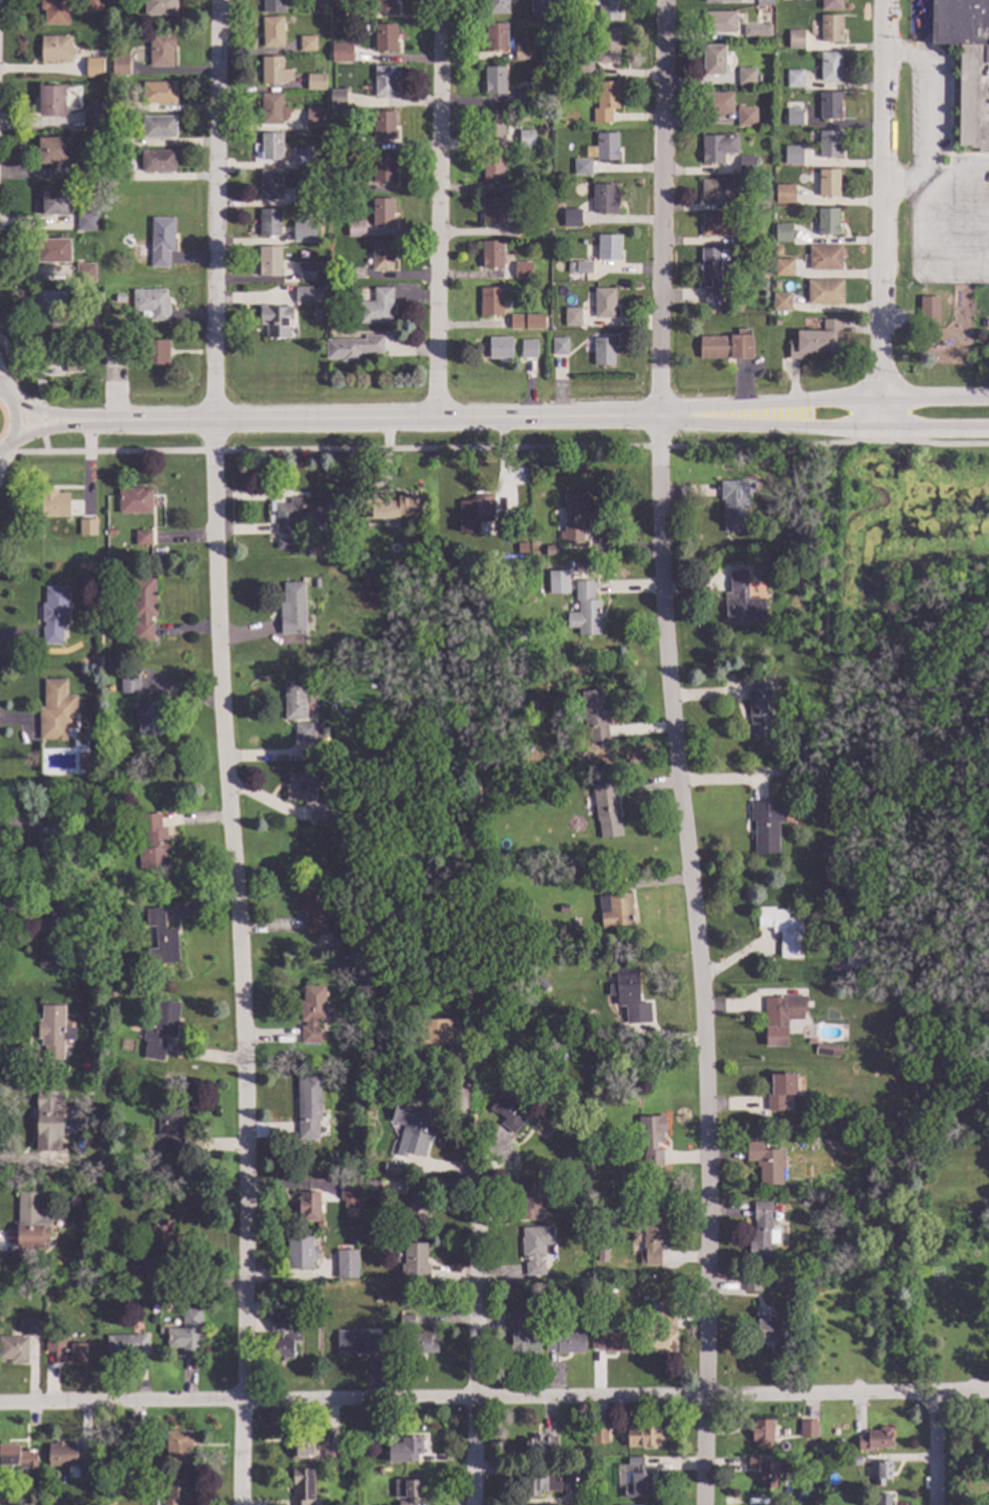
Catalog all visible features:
building: (722, 0)
building: (318, 1)
building: (579, 1)
building: (341, 2)
building: (764, 2)
building: (122, 4)
building: (540, 4)
building: (831, 4)
building: (93, 5)
building: (273, 5)
building: (384, 6)
building: (497, 6)
building: (160, 7)
building: (609, 9)
building: (55, 10)
building: (719, 20)
road: (883, 21)
building: (334, 24)
building: (831, 27)
building: (752, 29)
building: (273, 31)
building: (496, 35)
building: (385, 36)
building: (796, 38)
building: (308, 42)
building: (608, 44)
building: (56, 47)
building: (524, 47)
building: (162, 49)
building: (340, 52)
building: (358, 54)
building: (714, 58)
building: (967, 63)
building: (120, 64)
building: (584, 64)
building: (94, 66)
building: (830, 66)
building: (275, 69)
building: (747, 75)
building: (795, 77)
building: (495, 79)
building: (316, 80)
building: (385, 80)
building: (160, 92)
building: (526, 94)
building: (339, 98)
building: (52, 99)
building: (606, 100)
building: (717, 102)
building: (118, 103)
building: (830, 104)
building: (273, 107)
road: (932, 112)
building: (93, 114)
building: (794, 115)
building: (527, 116)
building: (747, 116)
building: (315, 117)
building: (494, 122)
building: (384, 123)
building: (159, 126)
building: (343, 134)
building: (118, 136)
building: (526, 139)
building: (830, 143)
building: (271, 145)
building: (606, 146)
building: (718, 147)
building: (54, 149)
building: (303, 155)
building: (797, 156)
building: (158, 160)
building: (747, 163)
building: (493, 165)
building: (383, 166)
building: (583, 166)
building: (803, 168)
building: (85, 169)
building: (560, 169)
building: (118, 171)
building: (767, 180)
building: (829, 182)
building: (271, 183)
building: (522, 183)
building: (355, 184)
building: (717, 189)
building: (785, 192)
building: (301, 195)
building: (605, 197)
building: (760, 198)
building: (55, 201)
road: (438, 209)
building: (492, 210)
building: (383, 211)
building: (318, 214)
building: (572, 216)
building: (86, 220)
building: (826, 221)
building: (270, 222)
building: (718, 223)
building: (522, 226)
building: (356, 227)
building: (784, 231)
building: (303, 232)
building: (753, 232)
road: (881, 235)
building: (162, 240)
building: (609, 245)
building: (53, 249)
building: (766, 250)
building: (778, 250)
building: (492, 253)
building: (382, 255)
building: (826, 256)
building: (270, 260)
building: (571, 266)
building: (585, 266)
building: (783, 267)
building: (523, 268)
building: (764, 268)
building: (307, 270)
building: (85, 271)
building: (712, 271)
building: (356, 272)
building: (331, 275)
building: (776, 283)
building: (825, 291)
building: (304, 293)
building: (928, 296)
building: (119, 297)
building: (782, 300)
building: (491, 301)
building: (152, 302)
building: (605, 302)
building: (52, 303)
building: (377, 306)
building: (317, 313)
building: (573, 316)
building: (276, 319)
building: (89, 320)
building: (519, 321)
building: (778, 321)
building: (816, 339)
building: (727, 344)
building: (560, 345)
building: (353, 346)
building: (500, 346)
building: (529, 347)
building: (49, 349)
building: (604, 350)
building: (156, 351)
building: (118, 354)
building: (73, 365)
road: (823, 402)
road: (38, 403)
road: (52, 413)
road: (377, 419)
road: (15, 420)
road: (53, 425)
road: (823, 426)
road: (489, 447)
building: (135, 500)
building: (54, 502)
building: (734, 504)
building: (401, 505)
building: (299, 511)
building: (475, 512)
building: (574, 517)
building: (88, 526)
building: (110, 530)
building: (143, 537)
building: (283, 544)
building: (309, 552)
building: (316, 581)
building: (742, 599)
building: (143, 606)
building: (293, 608)
building: (586, 609)
building: (54, 613)
building: (467, 634)
building: (457, 636)
building: (350, 643)
building: (129, 683)
building: (972, 684)
building: (109, 687)
building: (295, 699)
building: (57, 707)
building: (759, 708)
building: (596, 713)
building: (147, 716)
building: (307, 732)
building: (810, 751)
road: (222, 752)
road: (675, 752)
building: (801, 752)
building: (82, 760)
building: (328, 767)
building: (804, 772)
building: (475, 790)
building: (306, 793)
building: (116, 808)
building: (607, 808)
building: (767, 823)
building: (53, 839)
building: (153, 842)
building: (566, 880)
building: (986, 887)
building: (612, 902)
building: (312, 905)
building: (563, 907)
building: (845, 907)
building: (351, 926)
building: (783, 929)
building: (52, 932)
building: (161, 937)
building: (856, 961)
building: (342, 969)
building: (113, 990)
building: (627, 991)
building: (312, 1012)
building: (779, 1016)
building: (161, 1028)
building: (53, 1030)
building: (441, 1030)
building: (811, 1040)
building: (826, 1050)
building: (562, 1056)
building: (874, 1067)
building: (466, 1071)
building: (780, 1089)
building: (354, 1097)
building: (509, 1105)
building: (308, 1106)
building: (49, 1118)
building: (78, 1124)
building: (413, 1126)
building: (169, 1128)
building: (828, 1135)
building: (651, 1137)
building: (631, 1161)
building: (766, 1161)
road: (29, 1164)
building: (390, 1168)
building: (100, 1170)
building: (584, 1180)
building: (373, 1188)
building: (349, 1189)
building: (530, 1198)
building: (803, 1198)
building: (309, 1205)
building: (416, 1209)
building: (352, 1220)
building: (31, 1222)
building: (762, 1232)
building: (162, 1234)
building: (635, 1235)
building: (653, 1236)
building: (536, 1247)
building: (301, 1251)
building: (410, 1258)
building: (127, 1263)
building: (347, 1263)
building: (583, 1270)
building: (770, 1280)
building: (752, 1282)
building: (564, 1285)
building: (376, 1295)
building: (166, 1299)
building: (406, 1317)
building: (30, 1326)
building: (769, 1328)
building: (660, 1329)
building: (187, 1332)
building: (282, 1334)
building: (521, 1335)
building: (611, 1340)
building: (358, 1341)
road: (473, 1341)
building: (565, 1341)
building: (422, 1342)
building: (126, 1344)
building: (14, 1348)
building: (64, 1348)
road: (494, 1396)
building: (809, 1428)
building: (761, 1432)
building: (599, 1433)
building: (642, 1435)
building: (875, 1438)
building: (177, 1445)
building: (538, 1445)
building: (302, 1446)
road: (935, 1448)
building: (404, 1449)
building: (135, 1452)
building: (331, 1453)
building: (17, 1456)
building: (67, 1457)
building: (364, 1457)
building: (854, 1460)
building: (769, 1469)
building: (882, 1470)
building: (381, 1471)
building: (542, 1479)
building: (638, 1479)
building: (570, 1482)
building: (303, 1486)
building: (407, 1490)
building: (176, 1491)
building: (882, 1499)
building: (7, 1502)
building: (815, 1502)
building: (106, 1504)
building: (822, 1504)

